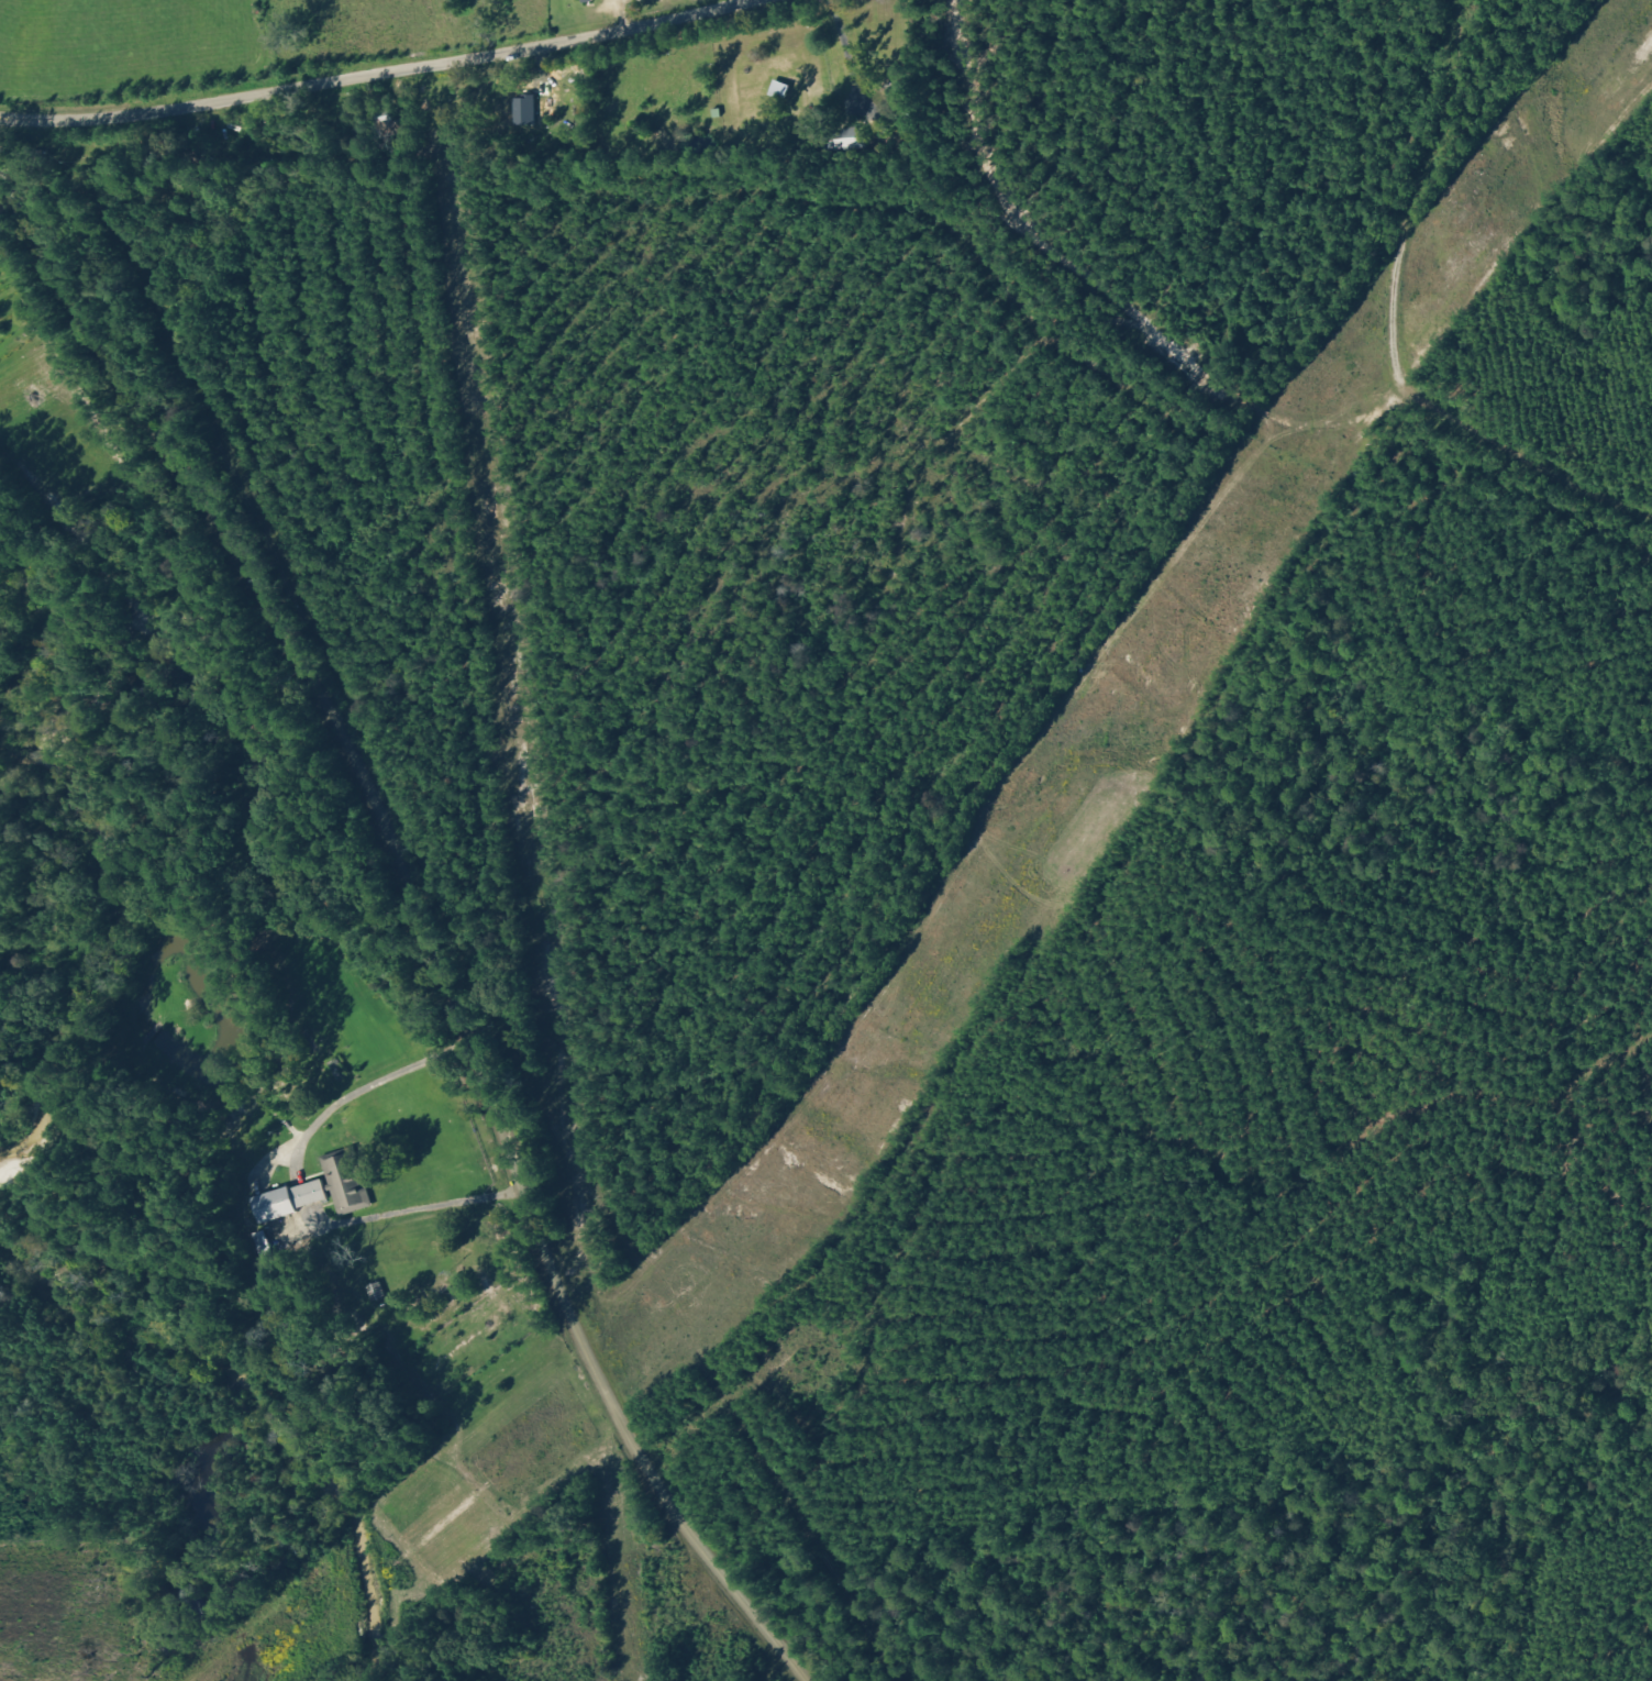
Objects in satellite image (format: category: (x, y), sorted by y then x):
road: (423, 59)
building: (511, 117)
road: (374, 916)
building: (347, 1185)
building: (287, 1199)

